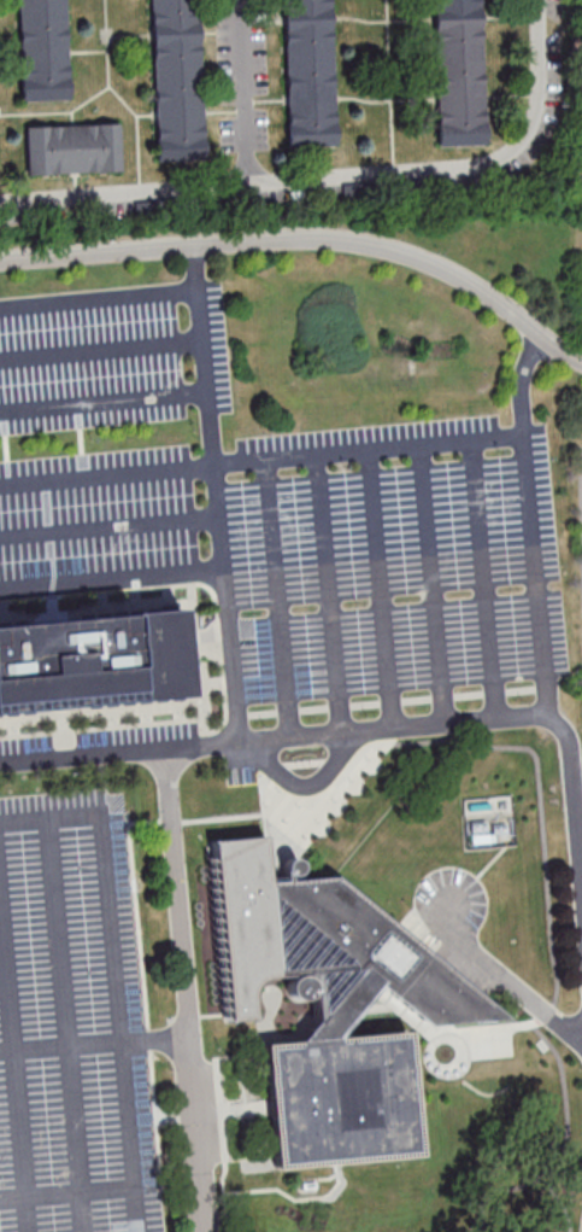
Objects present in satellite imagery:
building: (41, 49)
building: (458, 71)
building: (307, 72)
building: (176, 80)
road: (242, 92)
building: (72, 147)
road: (337, 177)
road: (306, 241)
road: (100, 297)
road: (102, 350)
road: (525, 372)
road: (105, 401)
road: (368, 448)
road: (107, 472)
parking lot: (578, 477)
road: (217, 492)
road: (110, 525)
road: (531, 566)
road: (112, 580)
building: (92, 659)
road: (446, 724)
road: (83, 755)
road: (306, 784)
road: (113, 941)
road: (505, 979)
parking lot: (78, 981)
road: (186, 991)
building: (329, 1005)
helipad: (330, 1115)
road: (72, 1120)
road: (130, 1148)
road: (136, 1209)

